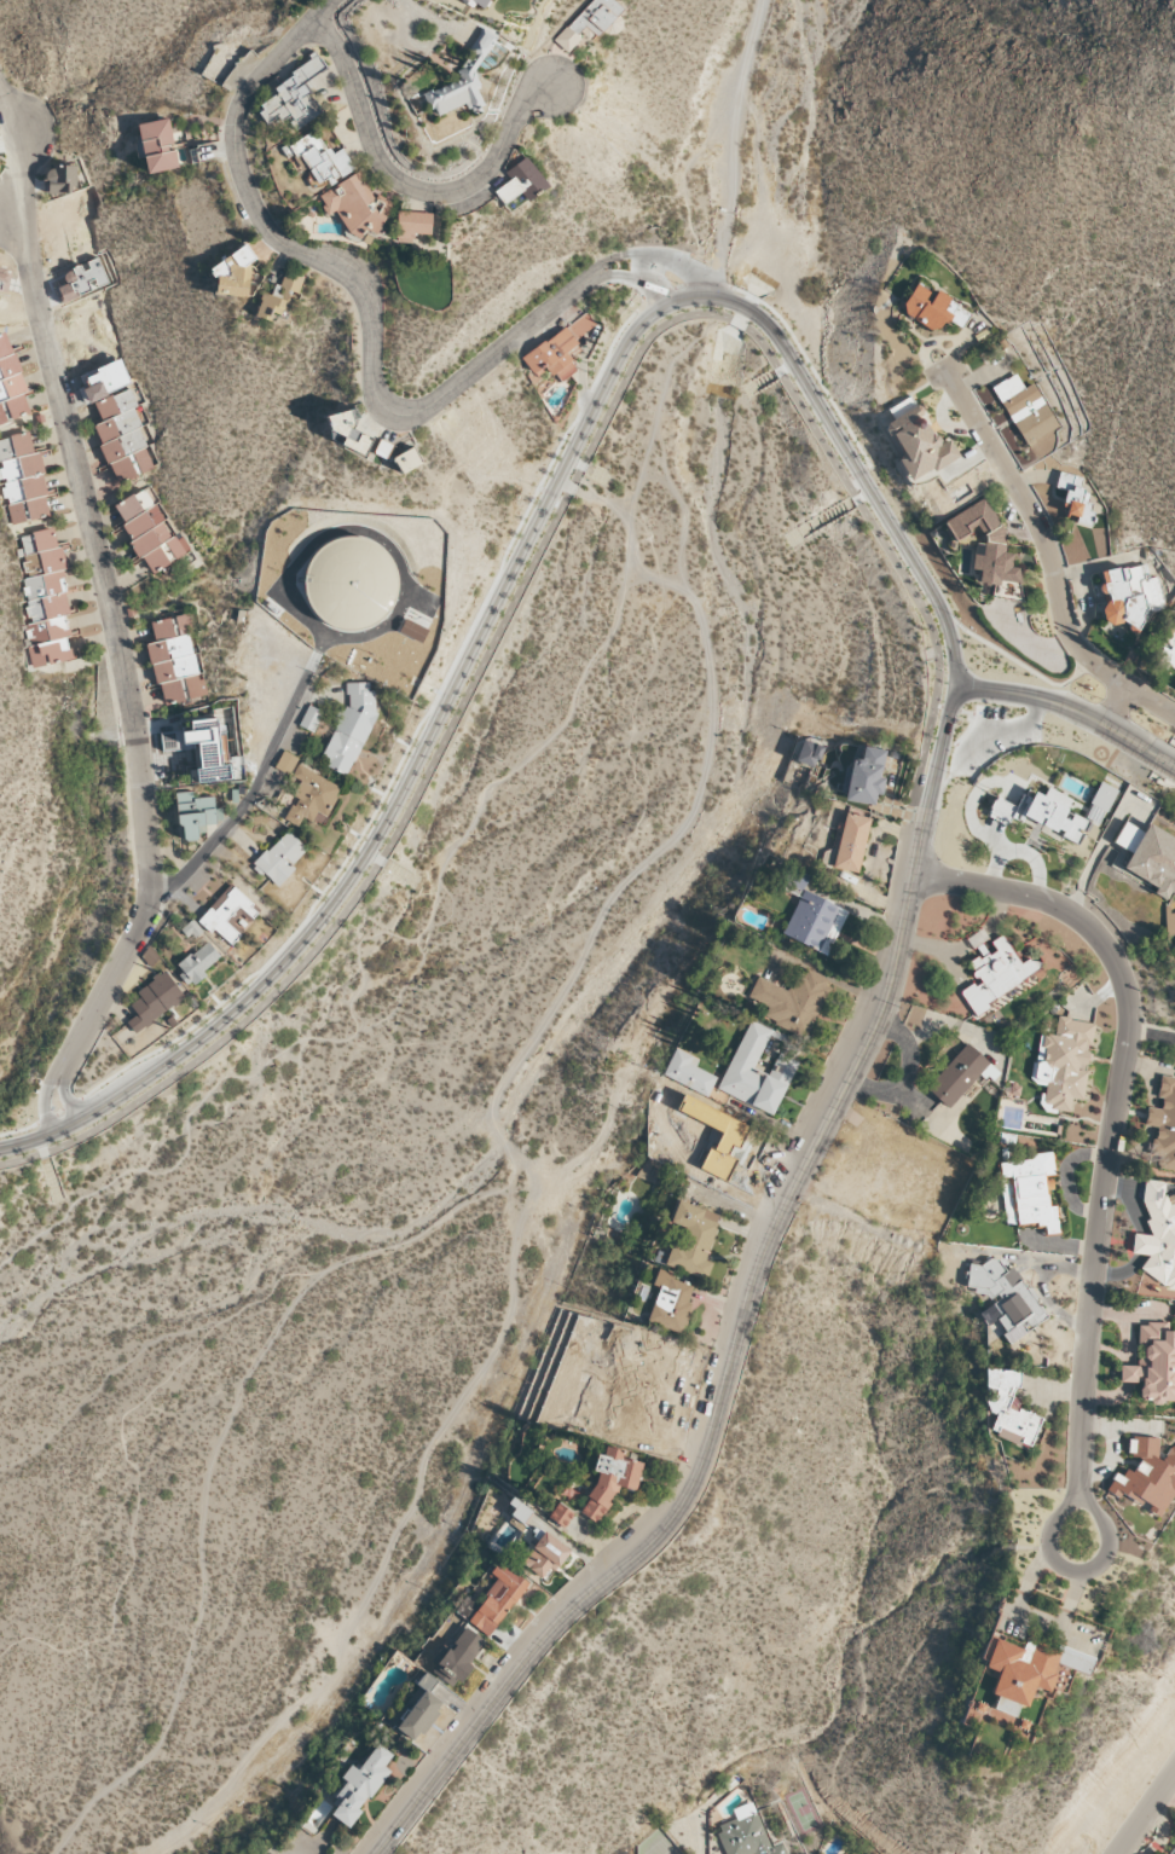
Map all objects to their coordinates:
building: (479, 4)
road: (319, 10)
building: (589, 22)
building: (462, 80)
building: (291, 98)
building: (156, 146)
road: (733, 147)
building: (319, 158)
building: (60, 179)
building: (520, 181)
road: (404, 185)
road: (760, 193)
building: (355, 204)
building: (412, 225)
road: (670, 257)
road: (598, 263)
road: (639, 265)
road: (661, 272)
building: (232, 274)
road: (602, 276)
building: (4, 277)
building: (81, 279)
road: (647, 283)
road: (679, 285)
building: (280, 297)
road: (361, 297)
building: (933, 308)
building: (555, 353)
road: (811, 366)
building: (11, 384)
road: (586, 399)
building: (1025, 409)
building: (348, 431)
building: (122, 438)
building: (916, 440)
road: (649, 442)
building: (382, 447)
building: (406, 459)
road: (858, 473)
building: (22, 480)
road: (551, 493)
road: (592, 496)
building: (1075, 497)
road: (683, 520)
building: (149, 531)
road: (546, 534)
building: (984, 543)
road: (1049, 552)
road: (519, 555)
road: (627, 572)
road: (108, 585)
building: (351, 585)
storage tank: (351, 585)
building: (1129, 593)
building: (45, 598)
building: (1174, 639)
building: (1167, 656)
building: (175, 661)
road: (1117, 706)
road: (948, 707)
road: (1071, 707)
building: (311, 718)
road: (967, 724)
building: (349, 728)
road: (1002, 731)
parking lot: (994, 738)
building: (206, 749)
building: (808, 753)
building: (285, 761)
building: (863, 776)
road: (253, 788)
building: (312, 796)
building: (1100, 803)
building: (1043, 812)
building: (196, 813)
road: (678, 829)
road: (361, 834)
building: (1127, 836)
building: (849, 841)
building: (280, 857)
building: (1154, 862)
road: (567, 865)
building: (227, 912)
building: (810, 915)
building: (190, 929)
building: (1174, 946)
building: (197, 962)
building: (996, 973)
building: (154, 1000)
building: (792, 1001)
building: (1064, 1062)
building: (688, 1072)
building: (756, 1072)
road: (64, 1095)
road: (42, 1100)
road: (71, 1102)
road: (59, 1111)
road: (1116, 1117)
road: (46, 1118)
building: (1163, 1125)
road: (18, 1130)
park: (406, 1141)
building: (724, 1146)
building: (1028, 1192)
building: (1157, 1235)
building: (691, 1239)
building: (1007, 1298)
building: (671, 1302)
road: (743, 1313)
building: (1153, 1365)
building: (1008, 1408)
building: (1146, 1470)
building: (609, 1481)
building: (560, 1514)
road: (392, 1540)
building: (545, 1554)
road: (1089, 1569)
building: (497, 1599)
building: (456, 1657)
building: (1029, 1667)
building: (419, 1709)
building: (360, 1785)
road: (1147, 1814)
building: (746, 1833)
building: (1173, 1850)

